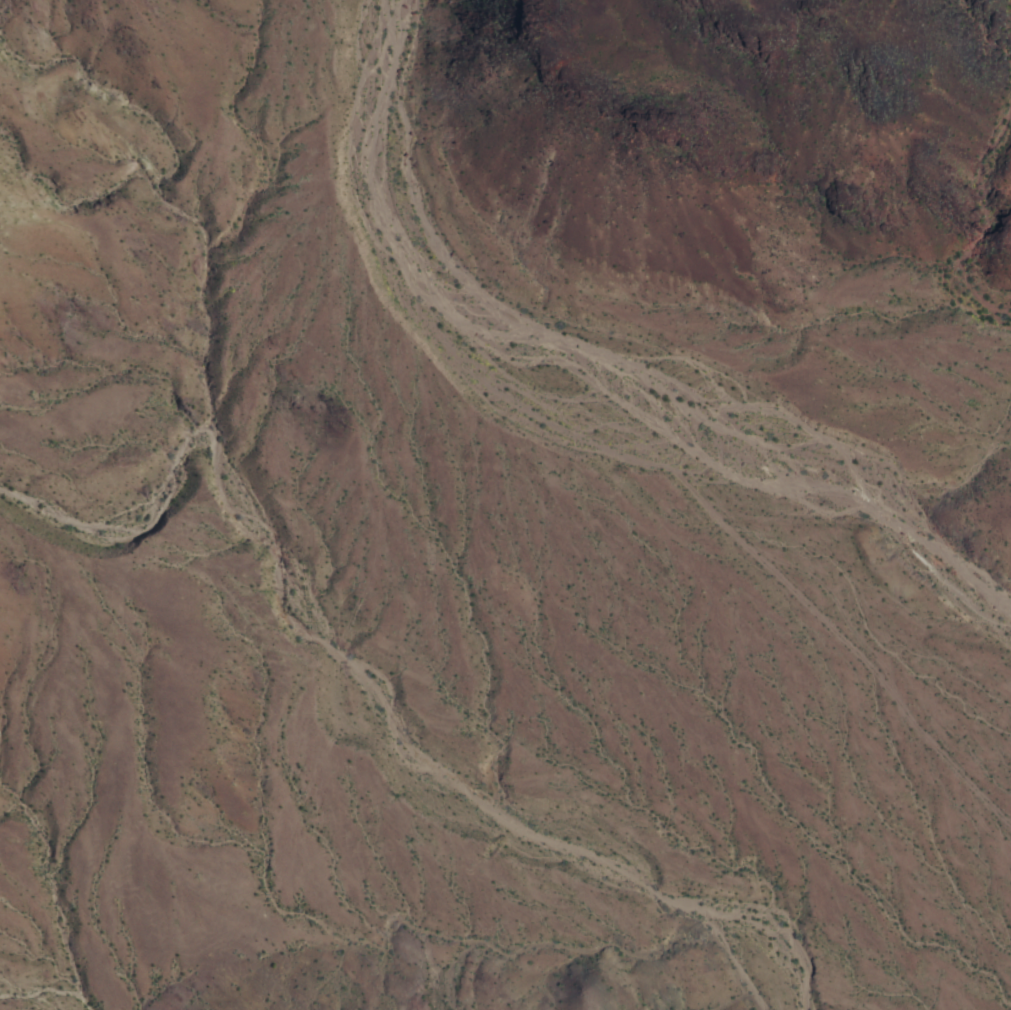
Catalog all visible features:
road: (604, 496)

